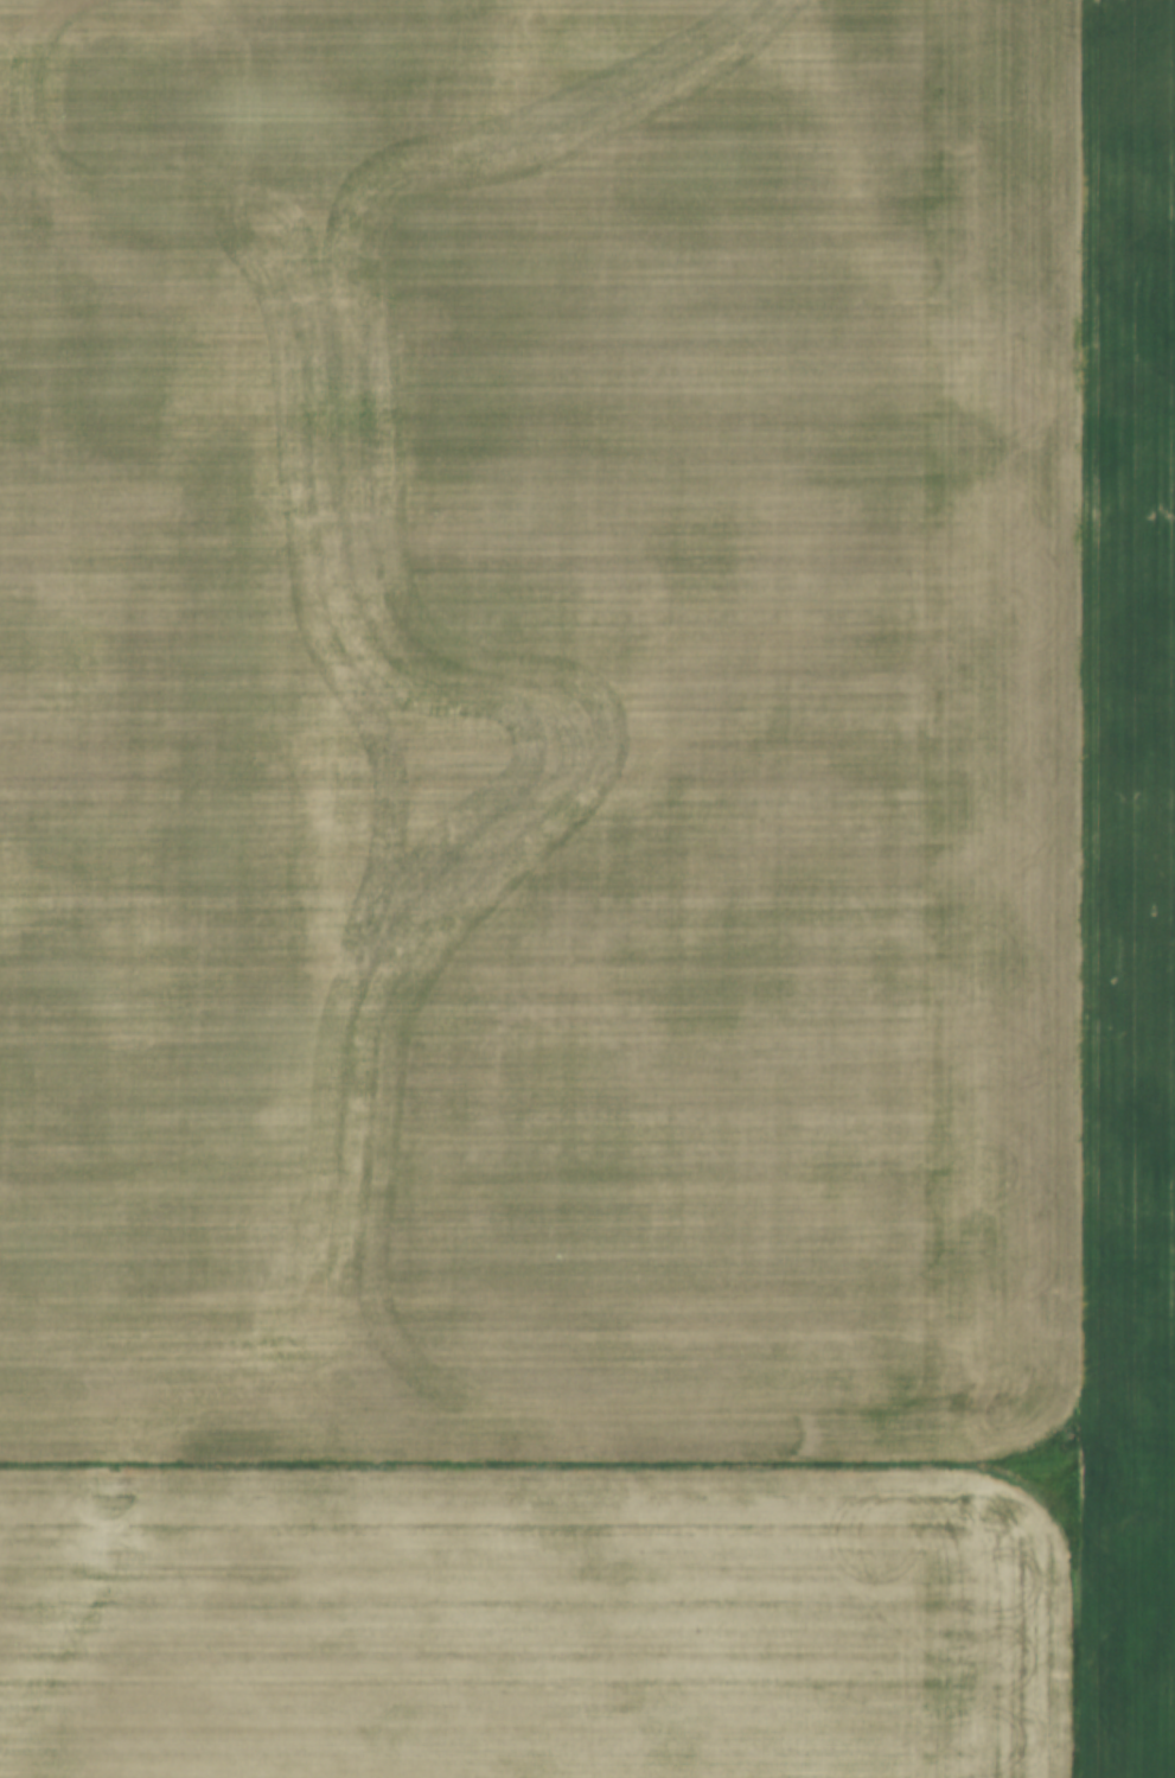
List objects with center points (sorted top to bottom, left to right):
road: (1079, 1267)

